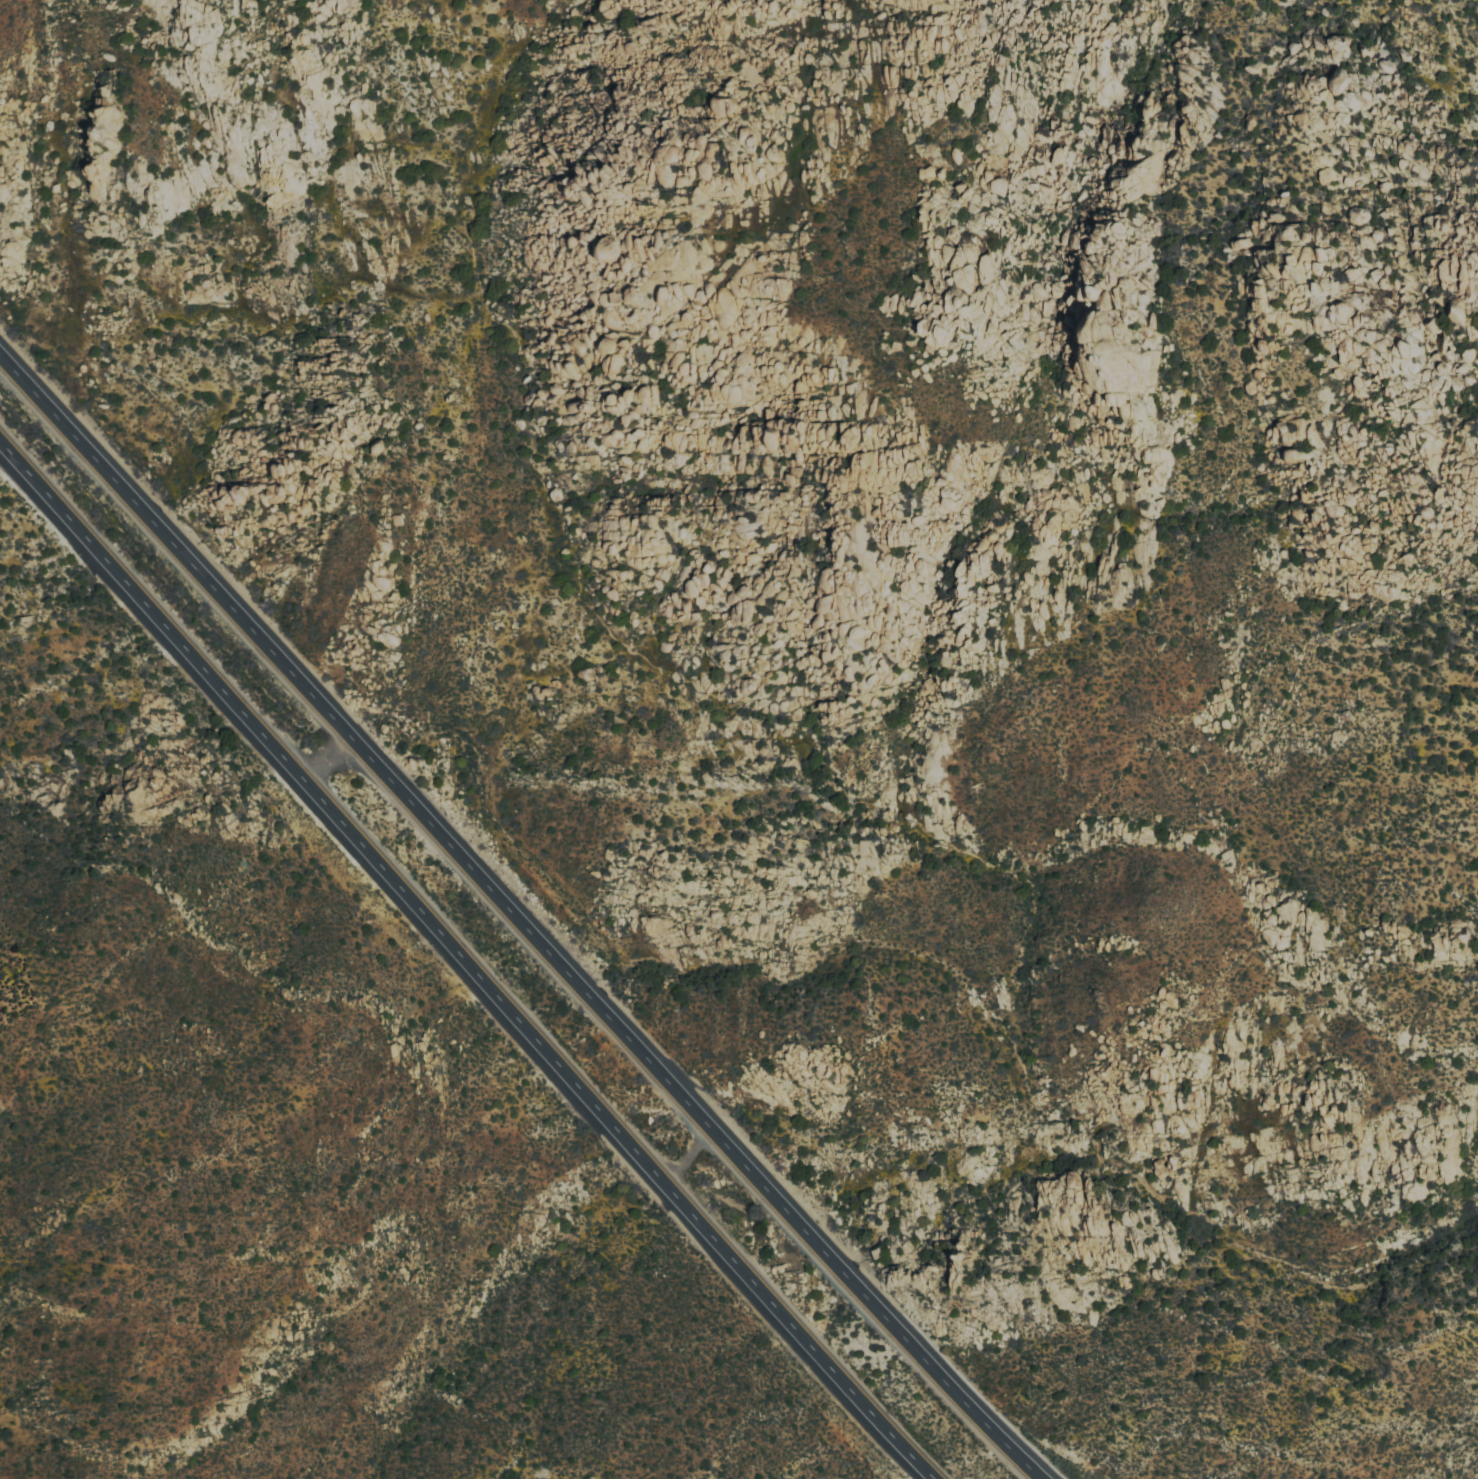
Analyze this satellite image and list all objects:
road: (518, 917)
road: (466, 957)

